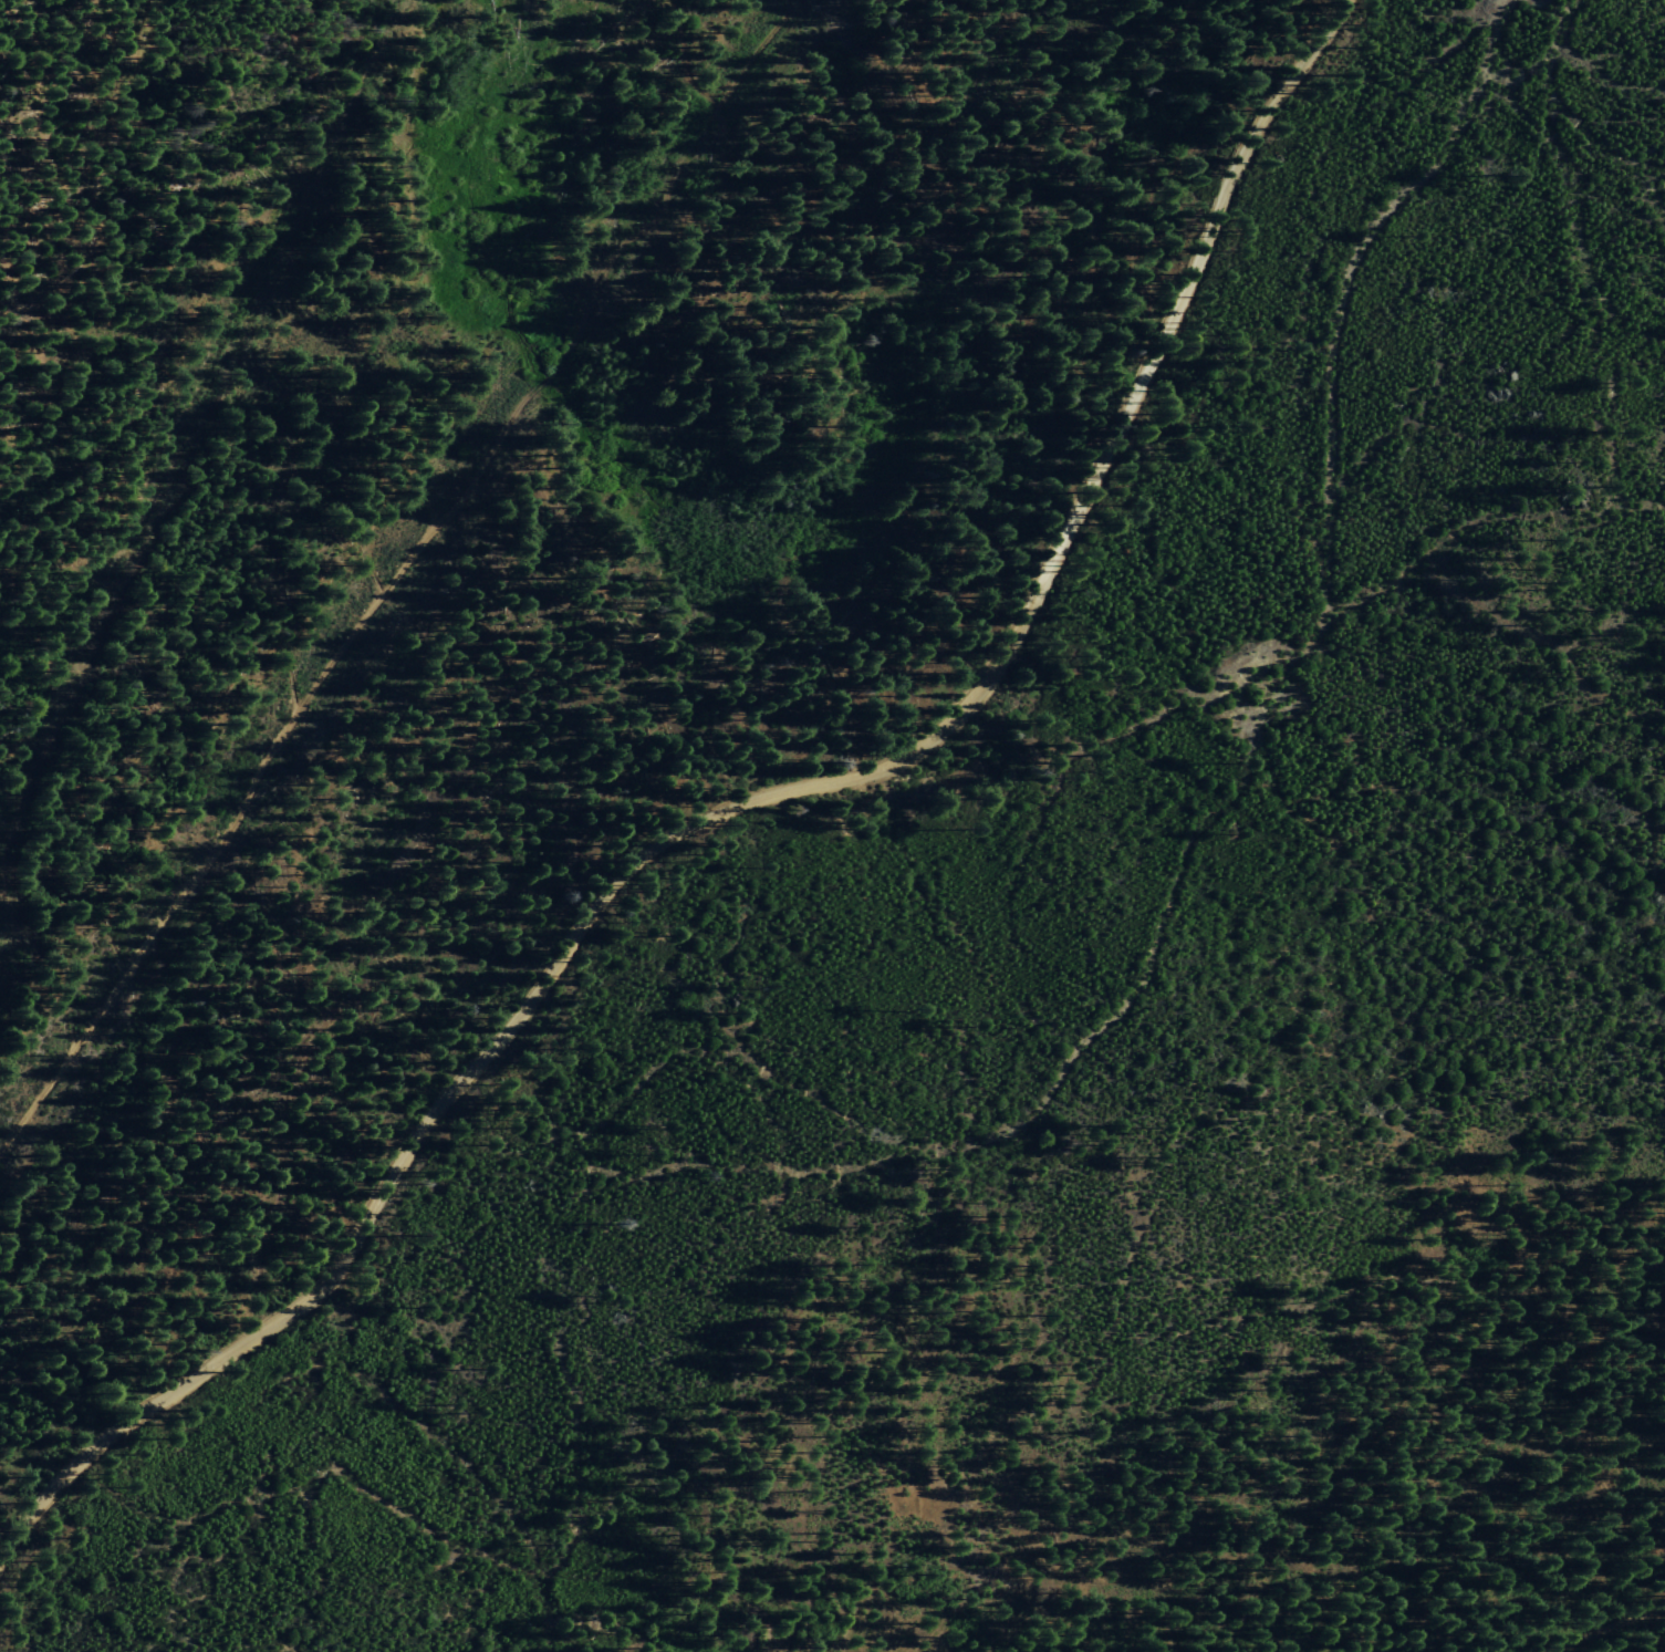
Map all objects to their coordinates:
road: (406, 579)
road: (1007, 656)
power tower: (230, 801)
power tower: (55, 1058)
road: (240, 1350)
road: (1603, 1629)

